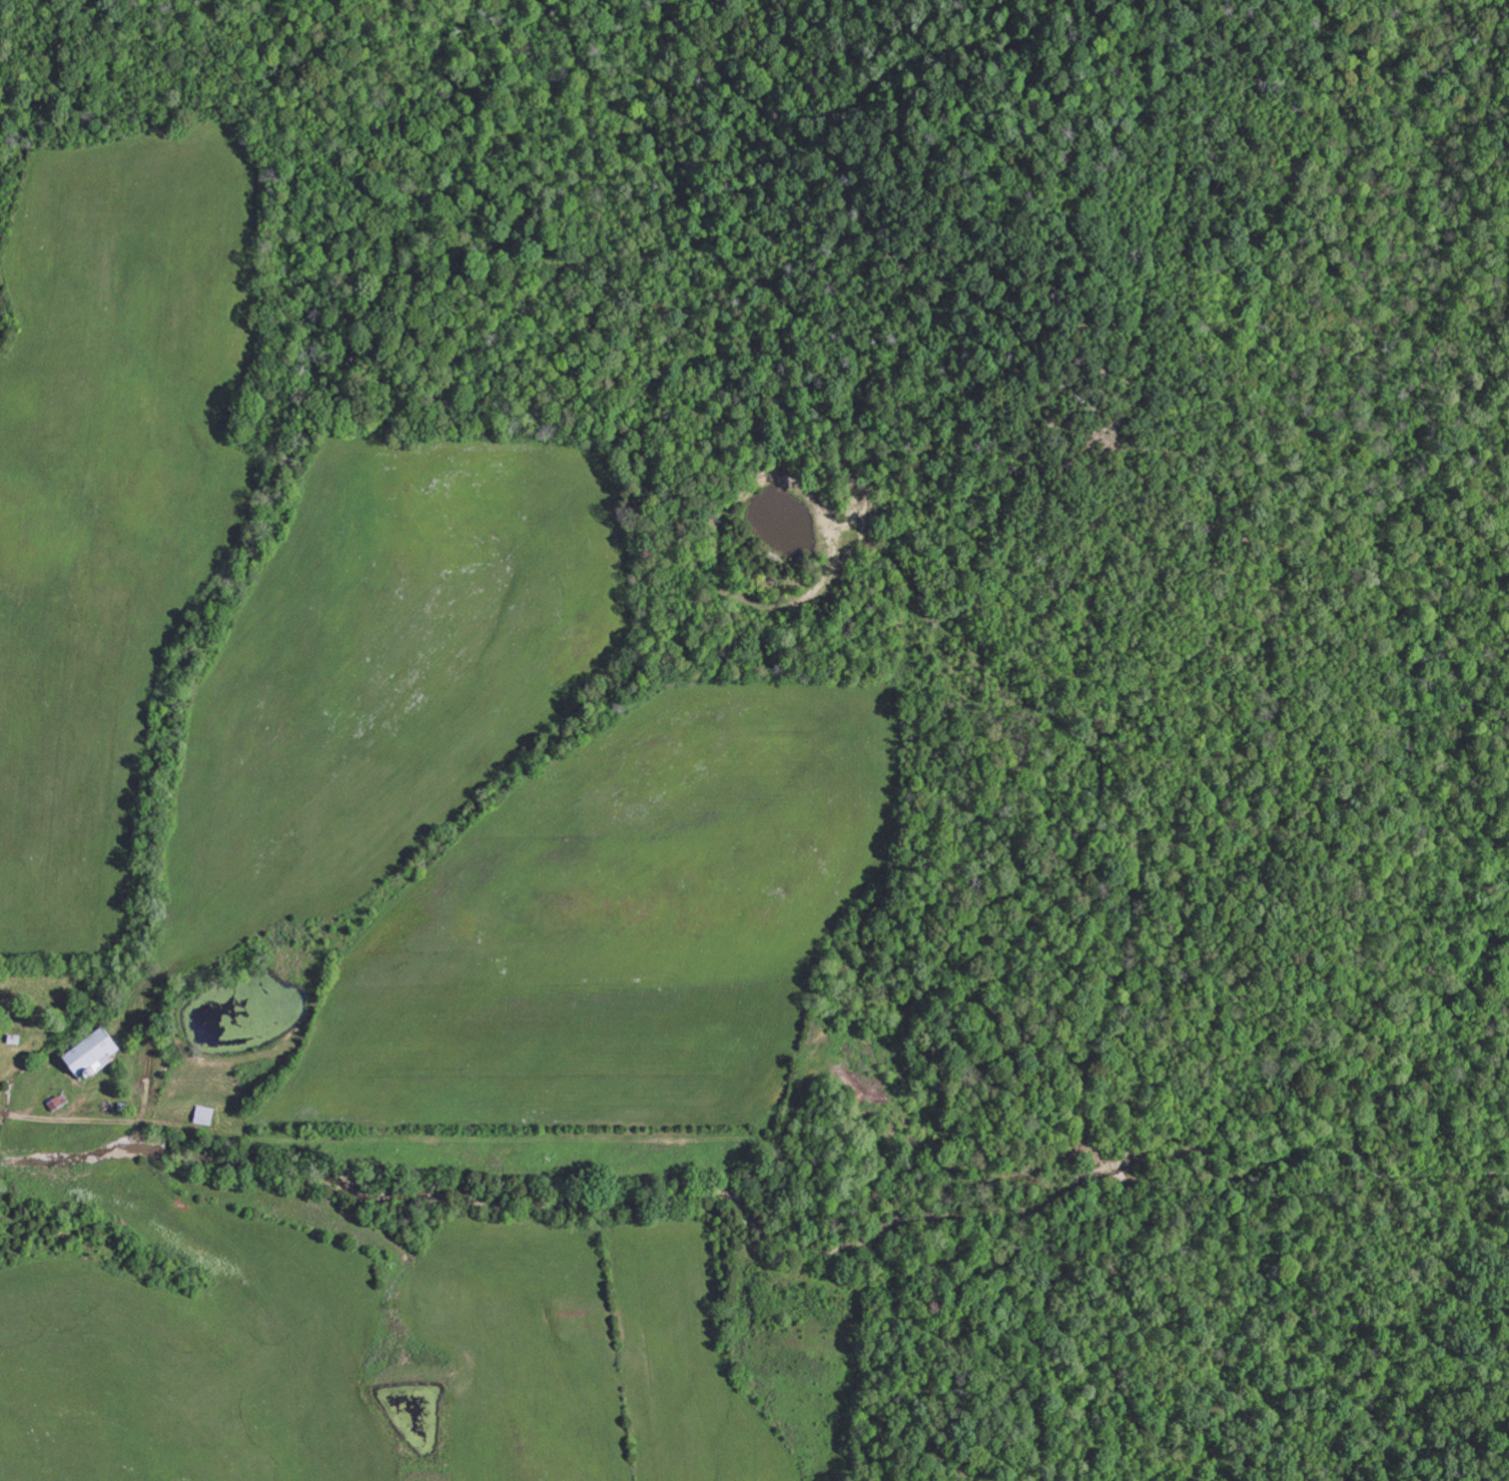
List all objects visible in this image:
building: (87, 1049)
building: (203, 1114)

